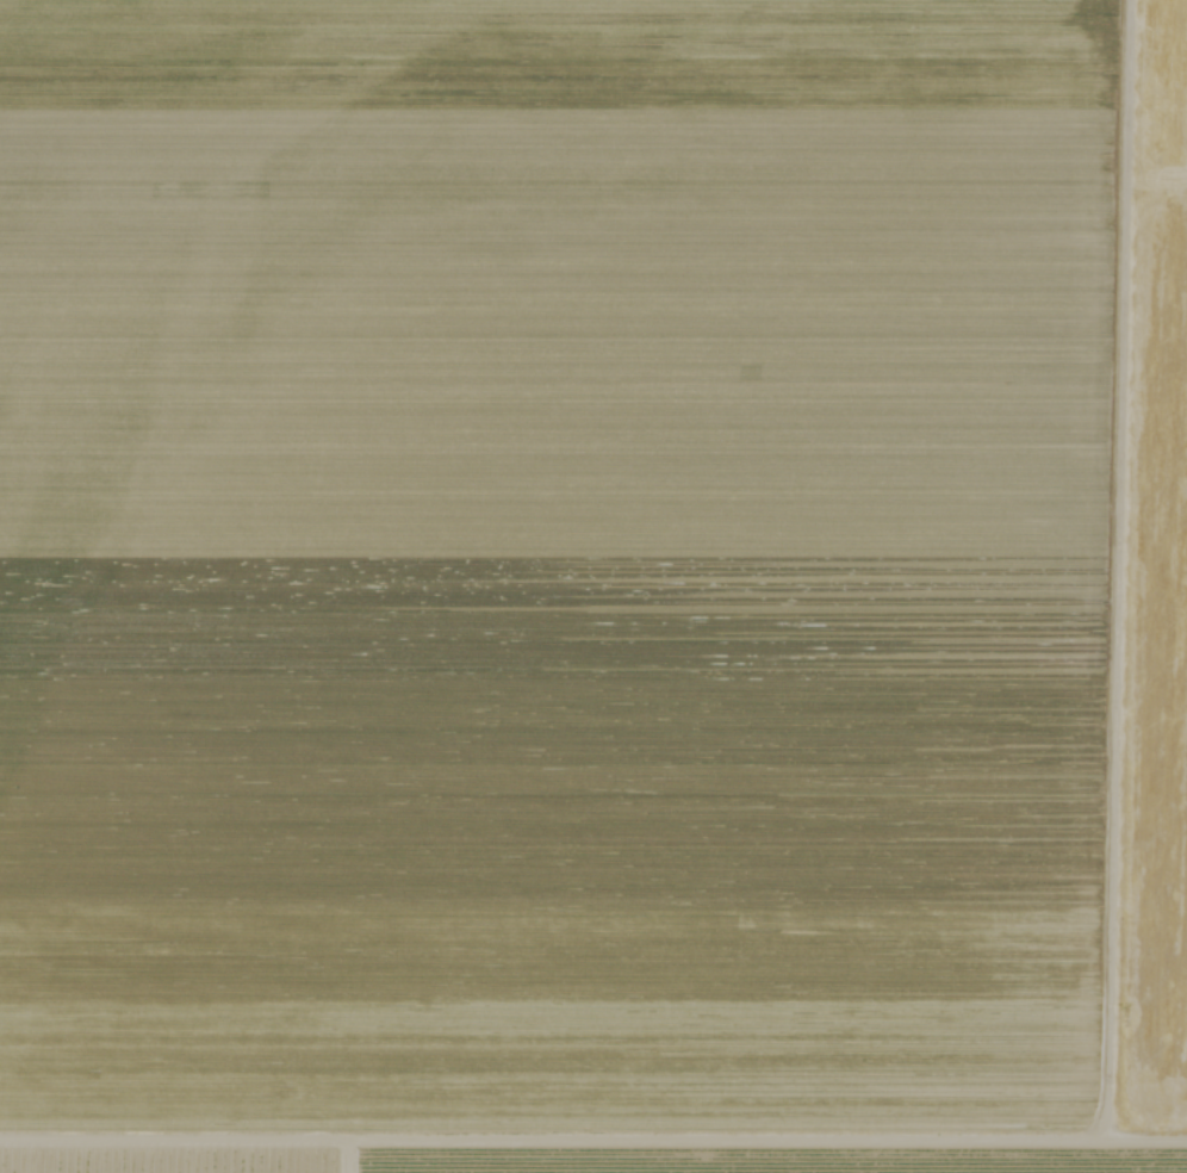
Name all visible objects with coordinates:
crop: (593, 586)

